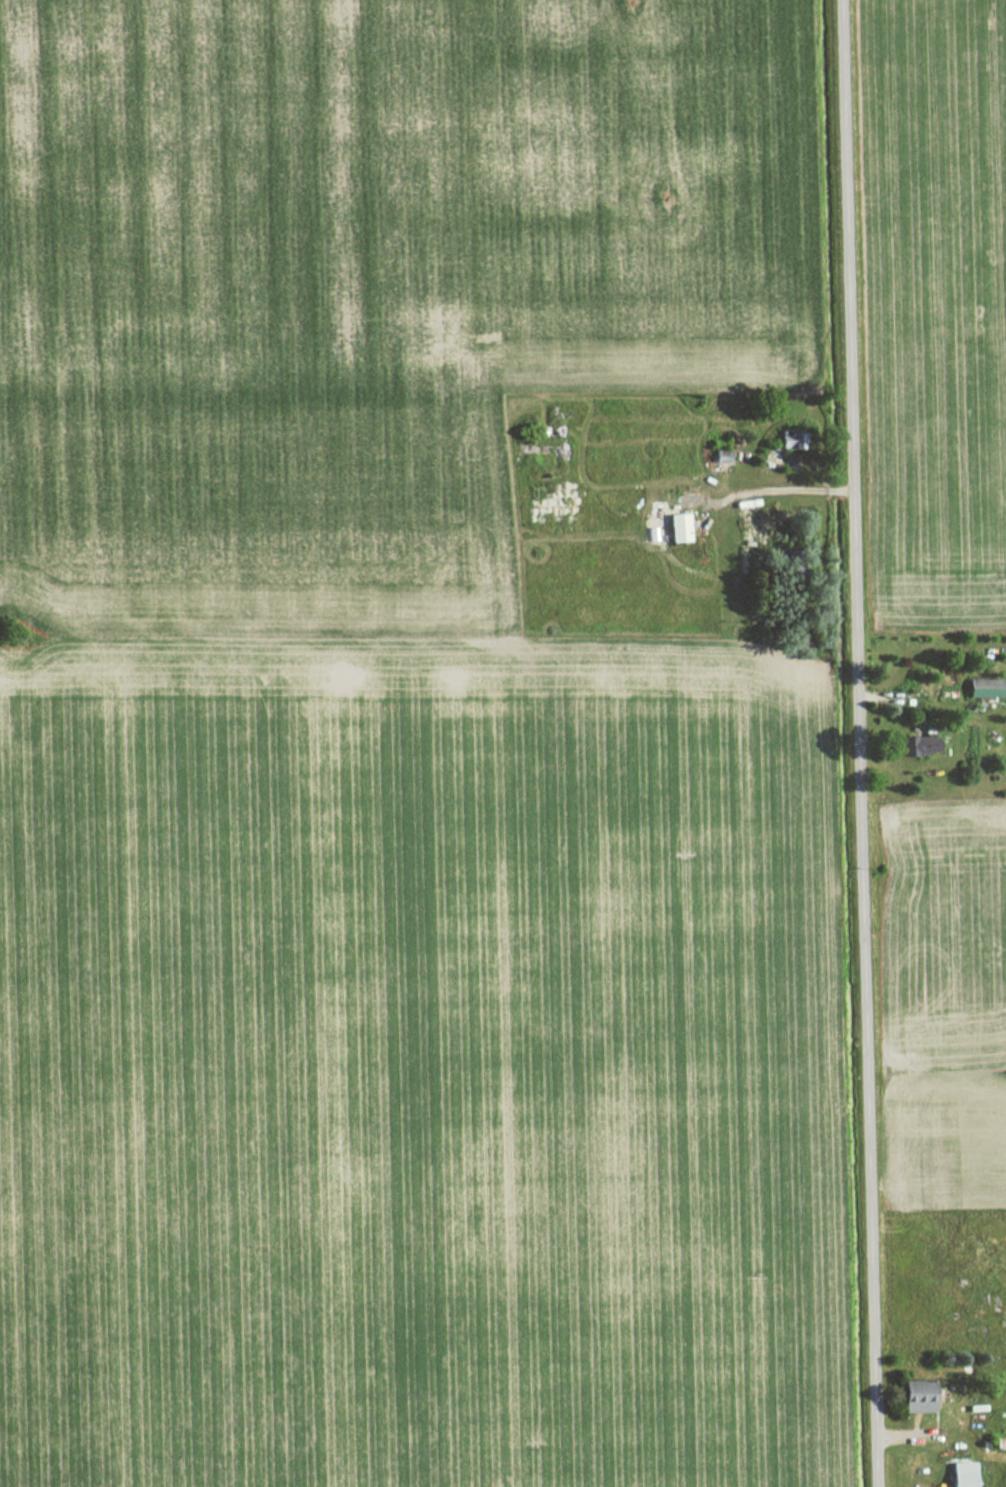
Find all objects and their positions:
crop: (362, 289)
crop: (948, 299)
building: (675, 527)
building: (977, 691)
road: (863, 743)
crop: (957, 943)
crop: (421, 1067)
crop: (960, 1140)
building: (914, 1402)
building: (959, 1474)

